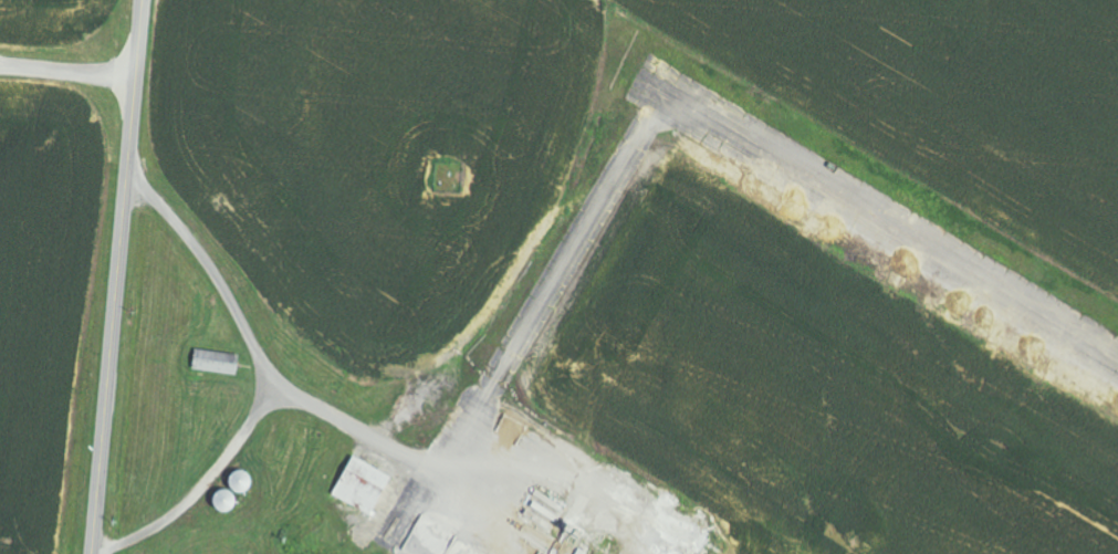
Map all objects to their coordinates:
road: (116, 276)
building: (217, 363)
road: (228, 370)
road: (280, 421)
building: (363, 484)

